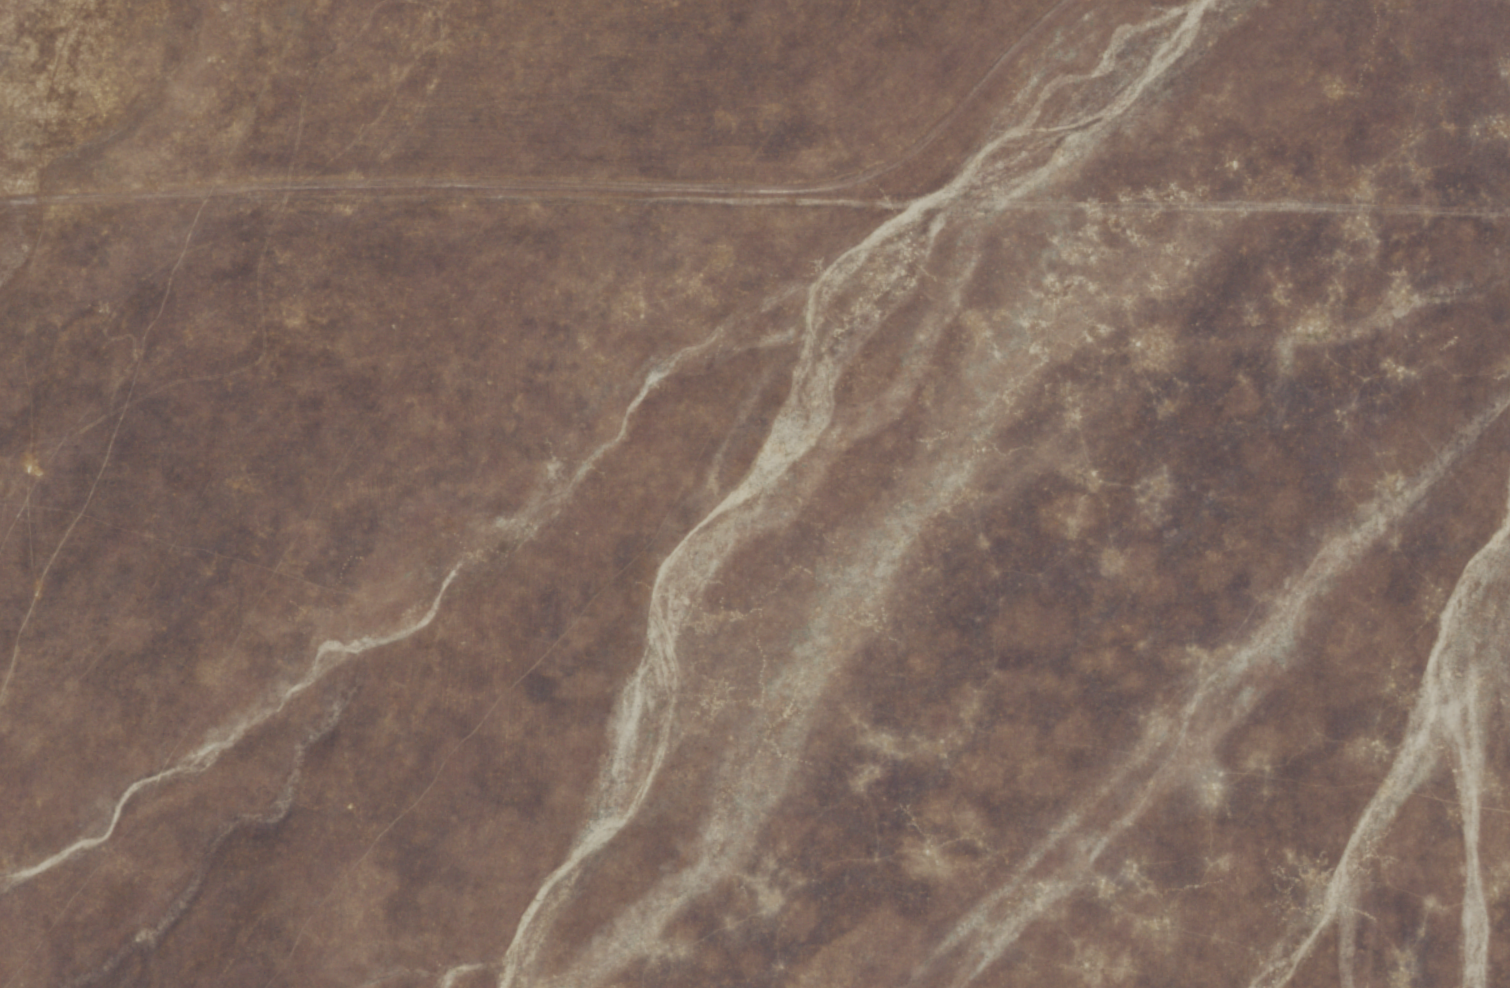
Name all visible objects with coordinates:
road: (571, 186)

